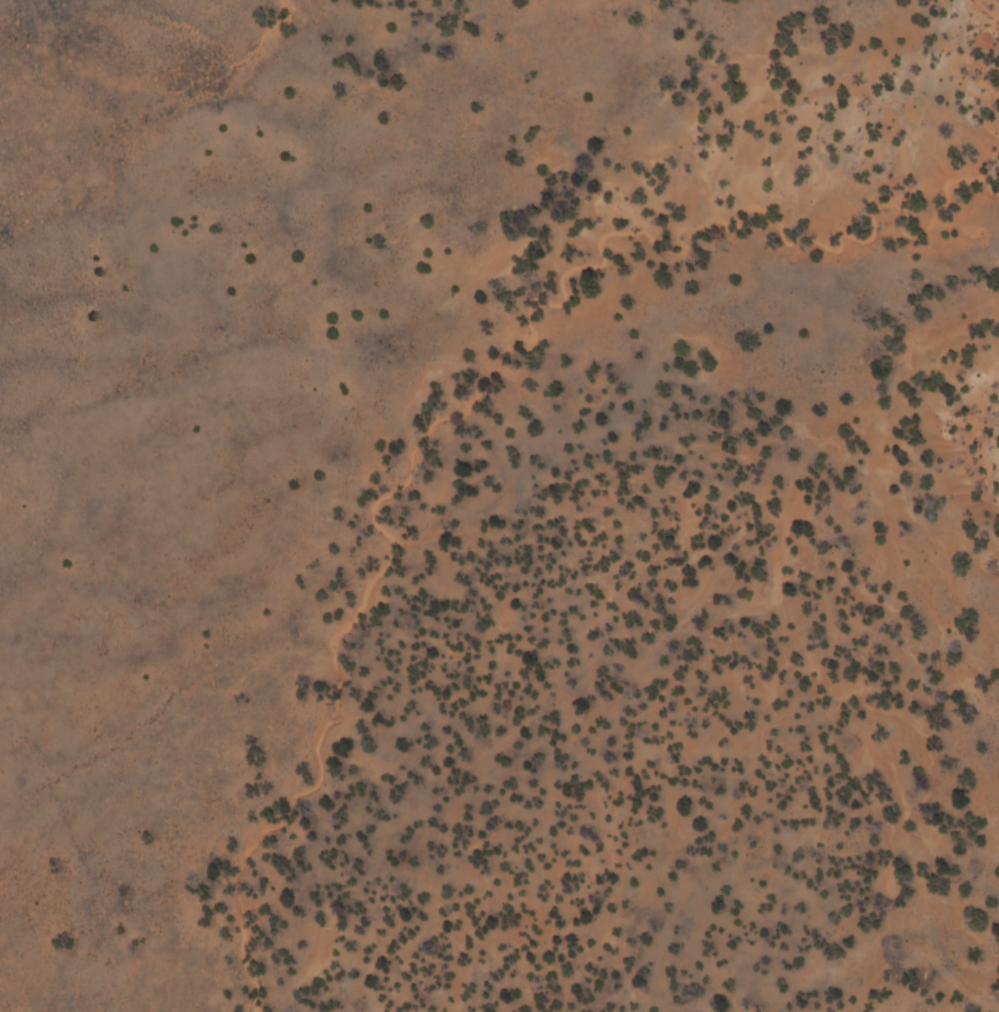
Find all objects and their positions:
road: (72, 895)

